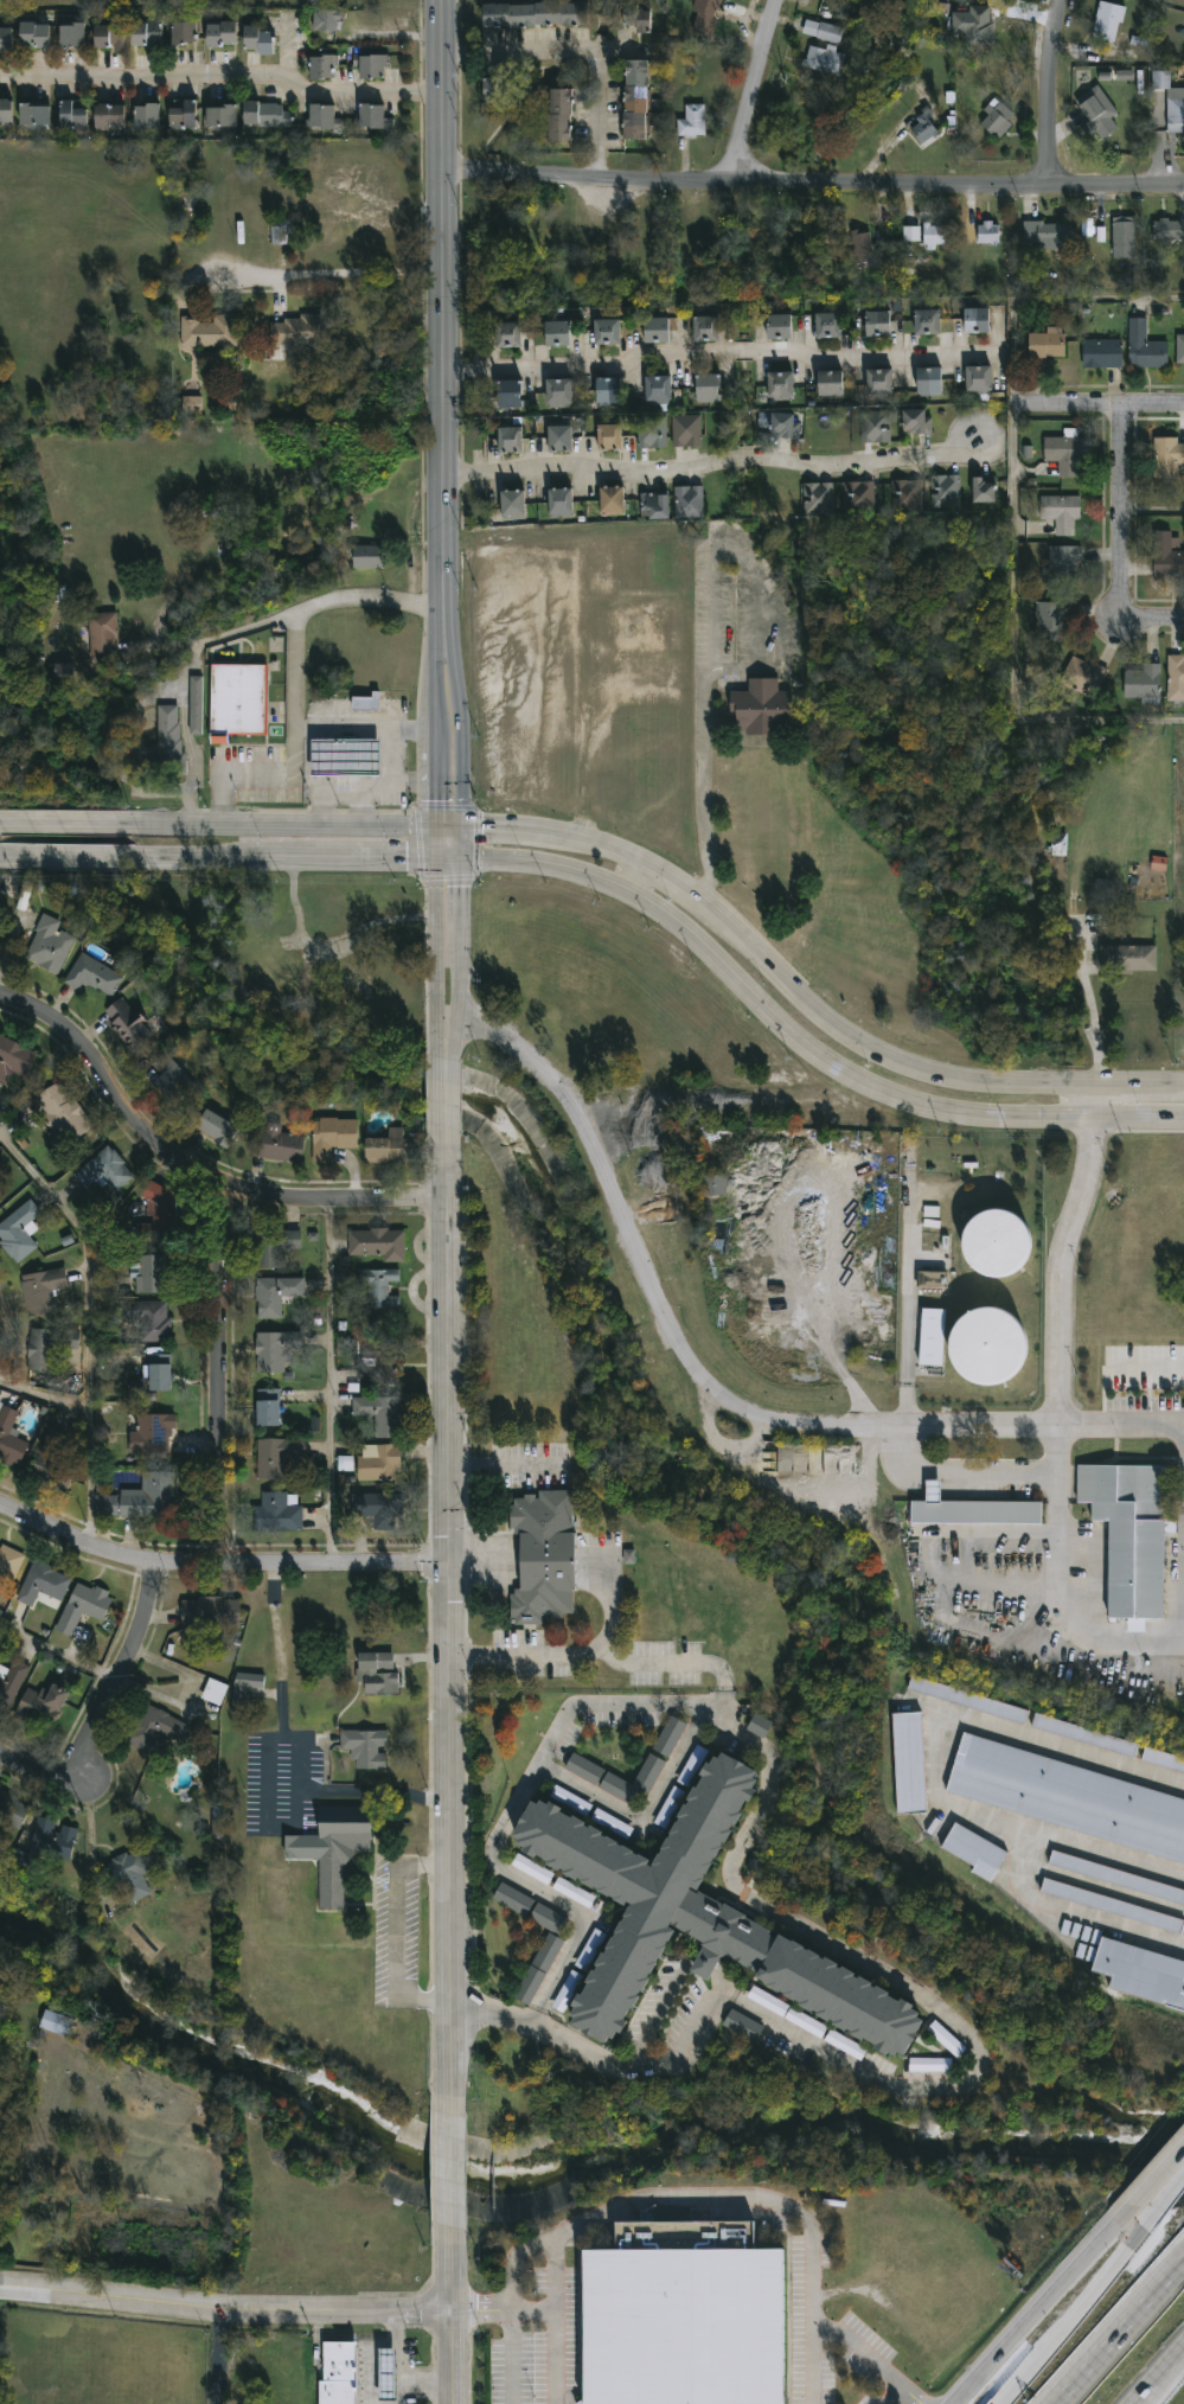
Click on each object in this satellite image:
building: (535, 14)
building: (702, 17)
building: (636, 18)
building: (326, 21)
building: (1106, 23)
building: (972, 26)
building: (827, 33)
building: (183, 34)
building: (70, 36)
building: (146, 36)
building: (219, 36)
building: (33, 37)
building: (107, 38)
building: (6, 40)
building: (257, 40)
road: (584, 56)
building: (823, 62)
building: (322, 68)
building: (371, 69)
road: (223, 73)
building: (1124, 75)
building: (495, 85)
road: (755, 92)
road: (1051, 94)
building: (636, 98)
building: (1175, 111)
building: (6, 113)
building: (1096, 113)
building: (181, 115)
building: (561, 115)
building: (33, 116)
building: (73, 116)
building: (220, 116)
building: (109, 117)
building: (147, 117)
building: (321, 117)
building: (265, 119)
building: (372, 119)
building: (692, 121)
building: (994, 121)
building: (921, 129)
road: (814, 186)
building: (188, 203)
building: (1087, 228)
building: (1167, 231)
building: (280, 234)
building: (911, 234)
building: (986, 234)
building: (932, 235)
building: (1047, 237)
building: (1121, 238)
building: (859, 248)
building: (826, 255)
road: (333, 279)
road: (1044, 298)
building: (975, 319)
building: (926, 320)
building: (877, 322)
road: (446, 324)
building: (827, 324)
building: (785, 325)
building: (704, 327)
building: (655, 328)
building: (606, 330)
building: (301, 332)
building: (557, 332)
building: (207, 333)
building: (506, 333)
building: (1044, 345)
building: (1144, 347)
building: (1179, 350)
building: (1100, 353)
road: (724, 358)
building: (978, 378)
building: (928, 379)
building: (878, 381)
building: (830, 383)
building: (779, 384)
building: (708, 386)
building: (658, 388)
building: (608, 390)
building: (558, 391)
building: (508, 392)
building: (192, 405)
road: (1103, 407)
building: (916, 420)
building: (785, 422)
building: (875, 424)
building: (652, 429)
building: (686, 429)
building: (609, 435)
building: (510, 437)
building: (559, 437)
building: (1061, 453)
building: (1165, 455)
road: (715, 466)
building: (945, 488)
building: (983, 488)
building: (905, 493)
building: (860, 495)
building: (817, 497)
building: (612, 500)
building: (687, 500)
building: (561, 501)
building: (512, 503)
building: (655, 504)
road: (1156, 511)
building: (1060, 512)
road: (1126, 539)
road: (724, 542)
building: (1166, 556)
building: (367, 557)
building: (1063, 564)
building: (1049, 622)
building: (102, 640)
road: (159, 640)
road: (1015, 644)
road: (750, 669)
building: (66, 673)
building: (1080, 676)
road: (434, 677)
building: (1175, 677)
road: (181, 678)
road: (293, 678)
building: (1140, 682)
building: (237, 702)
building: (365, 704)
building: (196, 707)
building: (760, 708)
road: (411, 728)
road: (341, 729)
road: (434, 730)
road: (460, 735)
road: (127, 739)
building: (168, 741)
building: (344, 760)
road: (391, 774)
road: (704, 786)
road: (434, 788)
road: (365, 794)
road: (331, 797)
road: (75, 821)
traffic signals: (434, 825)
traffic signals: (463, 825)
road: (574, 837)
road: (434, 840)
road: (75, 852)
road: (292, 855)
traffic signals: (434, 856)
road: (448, 856)
traffic signals: (463, 857)
road: (628, 874)
road: (434, 904)
road: (463, 916)
building: (49, 946)
road: (327, 948)
building: (1127, 958)
building: (91, 977)
building: (275, 983)
road: (435, 983)
building: (128, 1024)
road: (1094, 1024)
road: (441, 1028)
road: (455, 1028)
road: (800, 1041)
building: (14, 1060)
road: (1052, 1081)
building: (171, 1085)
road: (447, 1089)
building: (62, 1113)
building: (213, 1129)
building: (331, 1138)
building: (275, 1145)
building: (384, 1147)
building: (0, 1164)
road: (188, 1172)
building: (103, 1176)
building: (713, 1185)
building: (156, 1206)
building: (18, 1230)
building: (997, 1243)
building: (376, 1245)
building: (275, 1248)
road: (1063, 1253)
building: (151, 1274)
building: (932, 1280)
building: (377, 1289)
building: (41, 1292)
building: (274, 1296)
building: (143, 1323)
road: (85, 1329)
building: (932, 1337)
building: (987, 1345)
building: (49, 1348)
building: (271, 1353)
building: (380, 1358)
road: (1150, 1367)
building: (160, 1374)
road: (224, 1375)
road: (327, 1383)
road: (711, 1402)
building: (267, 1409)
building: (379, 1414)
building: (152, 1436)
building: (9, 1439)
building: (275, 1457)
building: (55, 1462)
building: (378, 1464)
road: (499, 1466)
road: (971, 1473)
building: (141, 1500)
building: (972, 1509)
building: (378, 1510)
building: (277, 1514)
building: (1129, 1534)
building: (543, 1555)
building: (628, 1556)
traffic signals: (449, 1559)
road: (476, 1559)
road: (218, 1564)
building: (8, 1566)
building: (43, 1585)
road: (1056, 1591)
road: (607, 1603)
building: (83, 1607)
building: (209, 1613)
road: (449, 1613)
road: (596, 1654)
road: (58, 1655)
building: (377, 1675)
building: (11, 1682)
building: (244, 1689)
building: (215, 1692)
building: (967, 1700)
road: (104, 1706)
building: (43, 1707)
building: (759, 1726)
building: (155, 1733)
building: (1082, 1735)
building: (366, 1748)
road: (284, 1759)
building: (1163, 1760)
building: (657, 1762)
building: (908, 1764)
road: (875, 1770)
building: (1068, 1798)
road: (512, 1802)
building: (13, 1811)
road: (645, 1814)
building: (220, 1828)
road: (91, 1831)
building: (46, 1844)
building: (973, 1852)
building: (338, 1856)
building: (532, 1869)
building: (129, 1875)
building: (1116, 1878)
building: (574, 1892)
building: (513, 1899)
building: (1113, 1906)
building: (696, 1917)
building: (549, 1919)
road: (396, 1931)
road: (703, 1967)
building: (538, 1969)
building: (1141, 1974)
road: (882, 1975)
road: (719, 1982)
building: (768, 2001)
road: (657, 2010)
road: (535, 2018)
building: (806, 2022)
building: (56, 2023)
building: (743, 2026)
building: (946, 2039)
road: (606, 2064)
building: (930, 2065)
road: (450, 2142)
road: (1151, 2184)
road: (693, 2198)
road: (1161, 2205)
road: (449, 2296)
road: (532, 2307)
road: (223, 2312)
road: (1033, 2312)
building: (684, 2317)
road: (553, 2320)
road: (1068, 2320)
road: (1119, 2332)
road: (373, 2349)
road: (511, 2355)
road: (218, 2358)
road: (871, 2359)
building: (337, 2373)
road: (1157, 2374)
building: (386, 2376)
road: (412, 2380)
road: (894, 2395)

